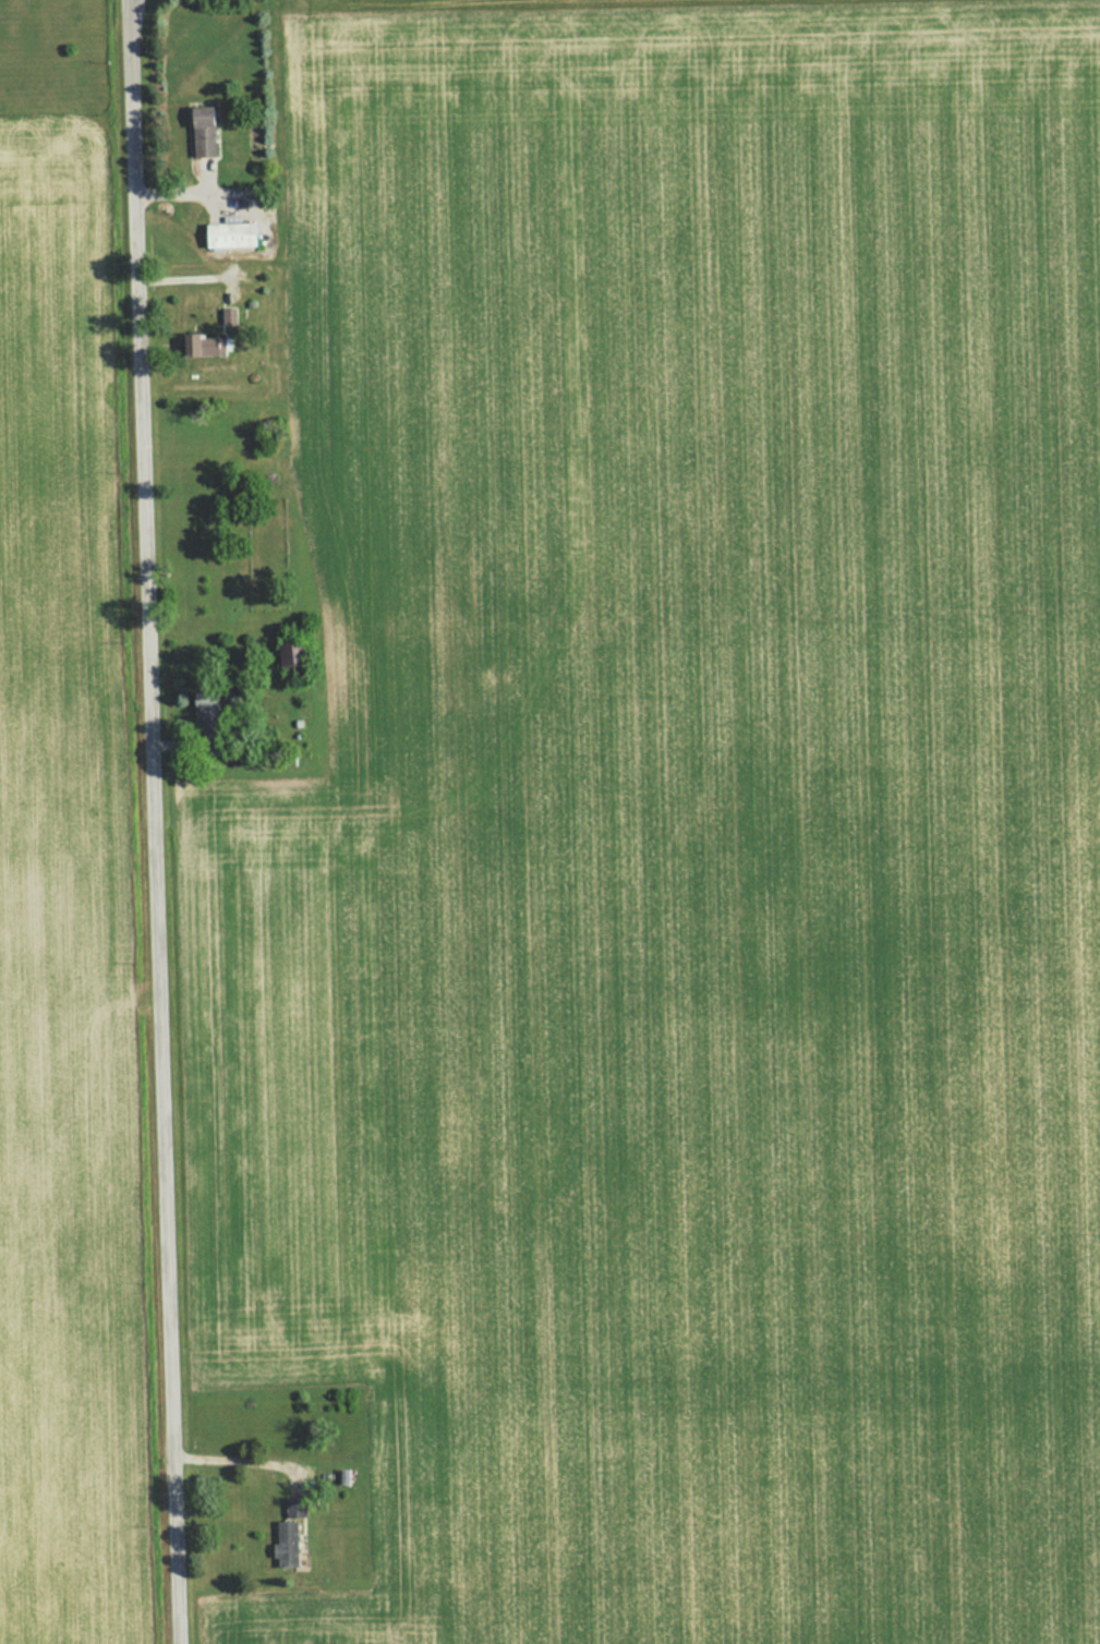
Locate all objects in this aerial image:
building: (231, 235)
building: (192, 341)
building: (291, 654)
road: (150, 822)
crop: (677, 831)
crop: (61, 933)

